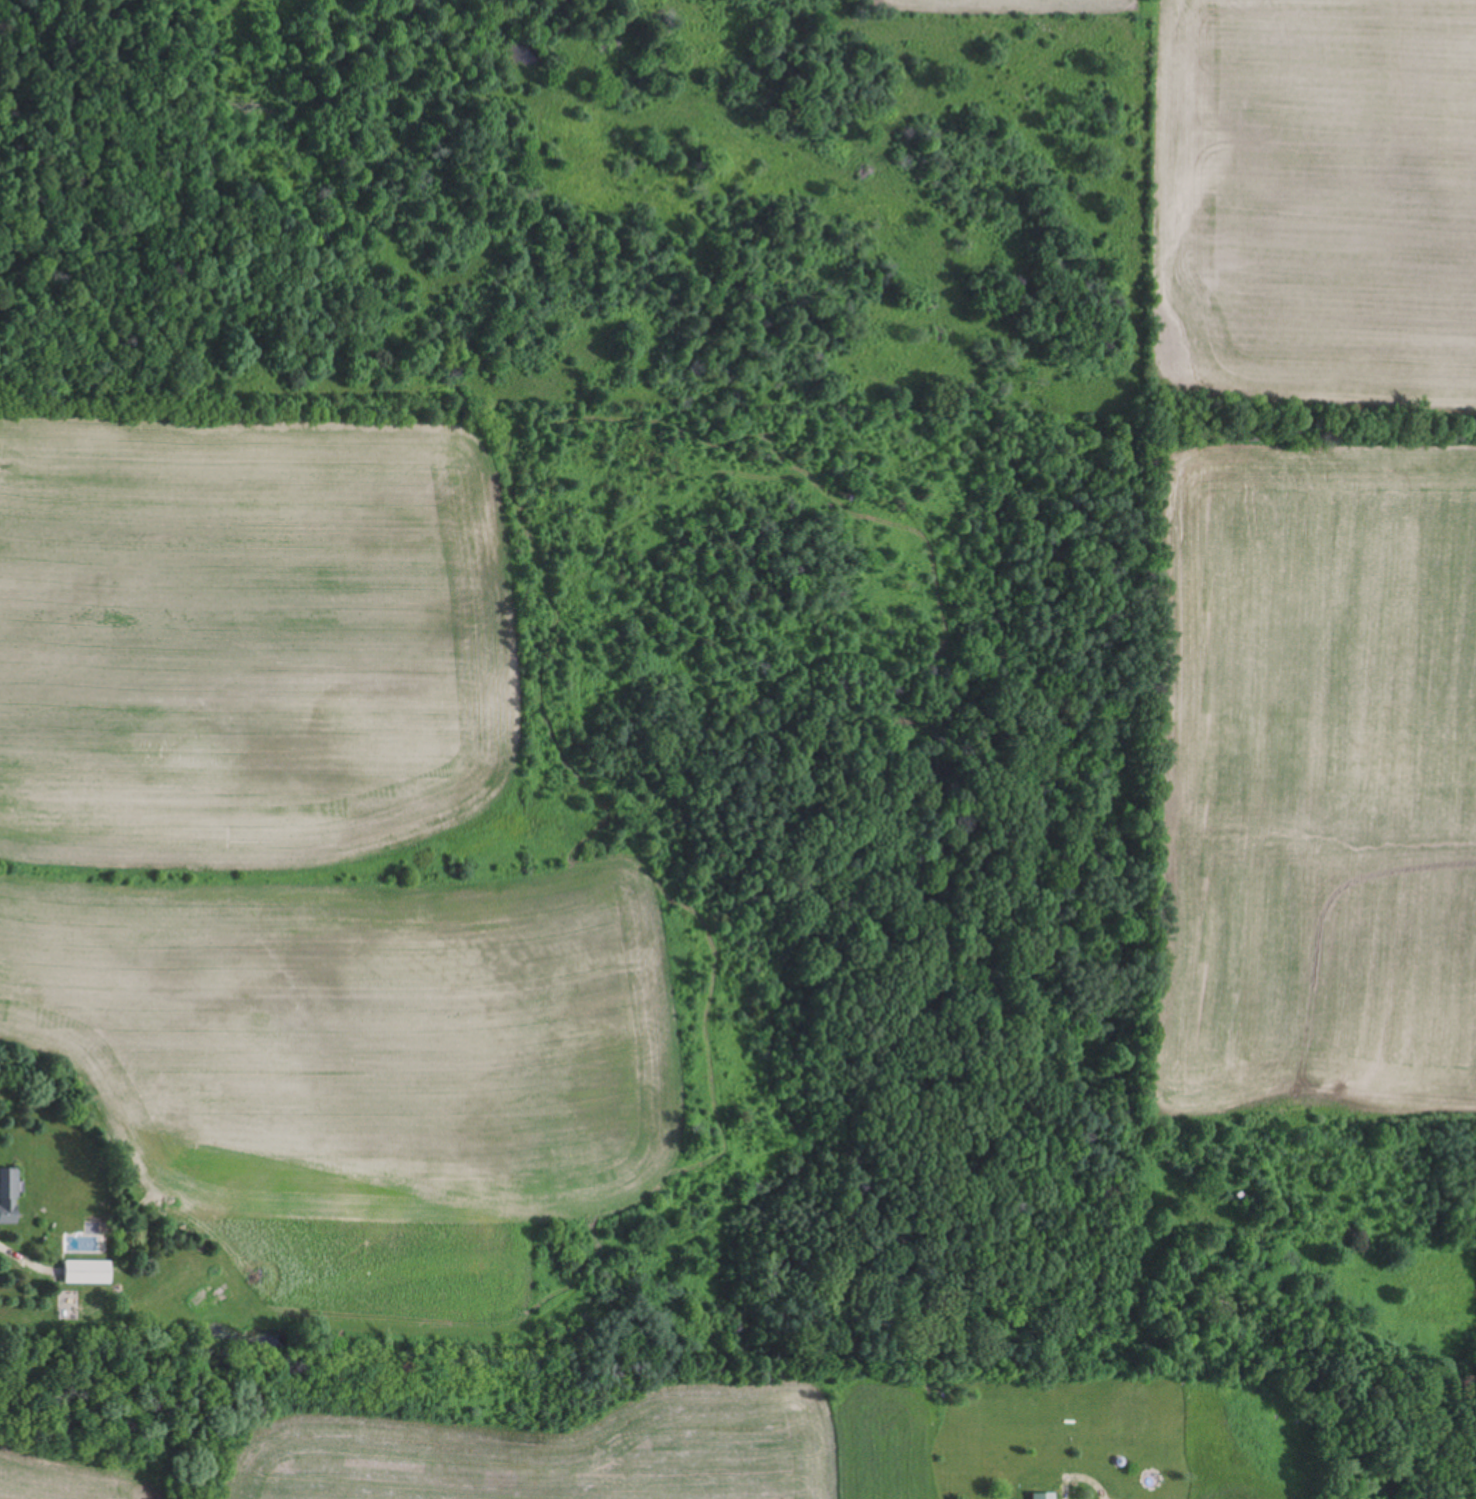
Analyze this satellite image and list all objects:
building: (9, 1197)
building: (88, 1273)
building: (1045, 1497)

